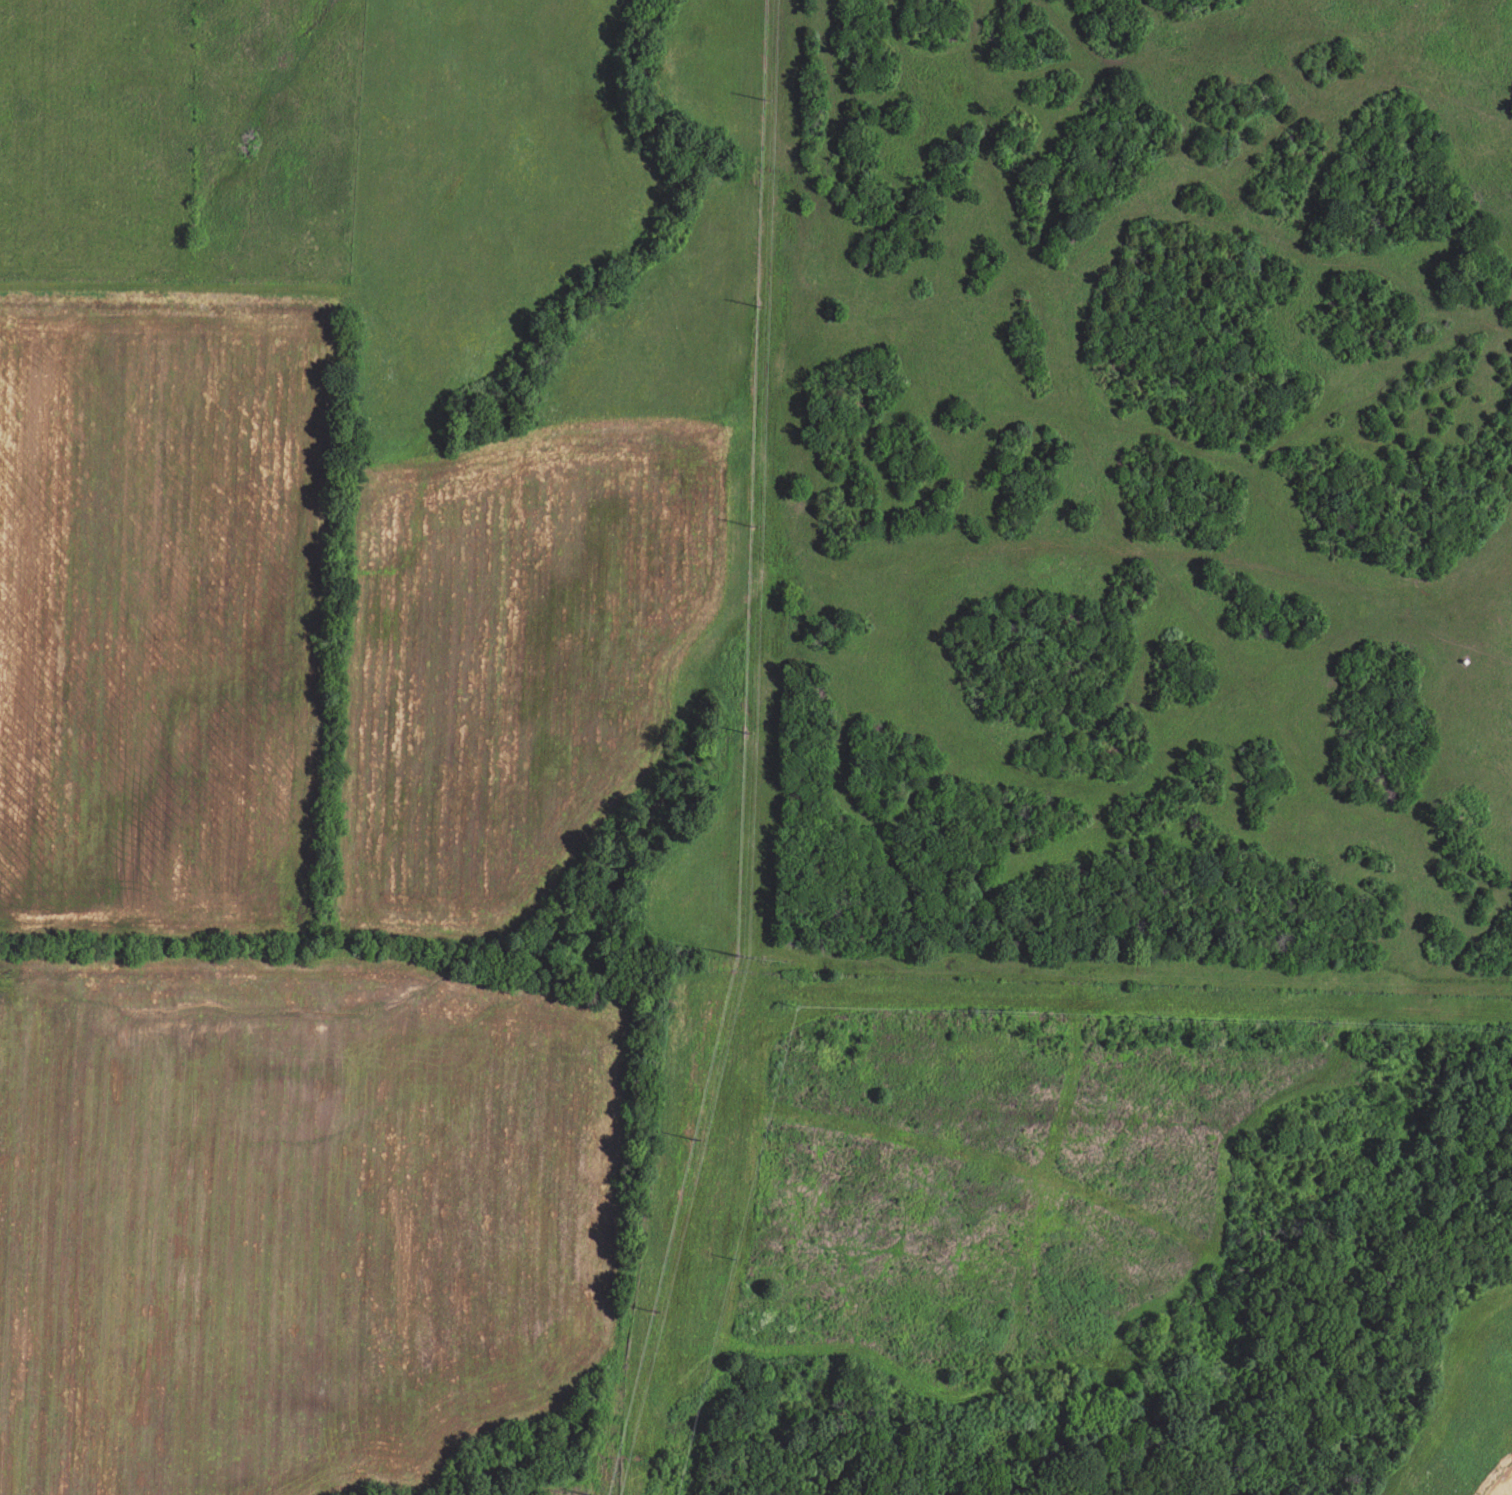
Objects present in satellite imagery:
power tower: (766, 96)
power tower: (760, 300)
power tower: (754, 522)
power tower: (747, 730)
power tower: (742, 952)
power tower: (697, 1136)
power tower: (656, 1306)
power tower: (607, 1492)

